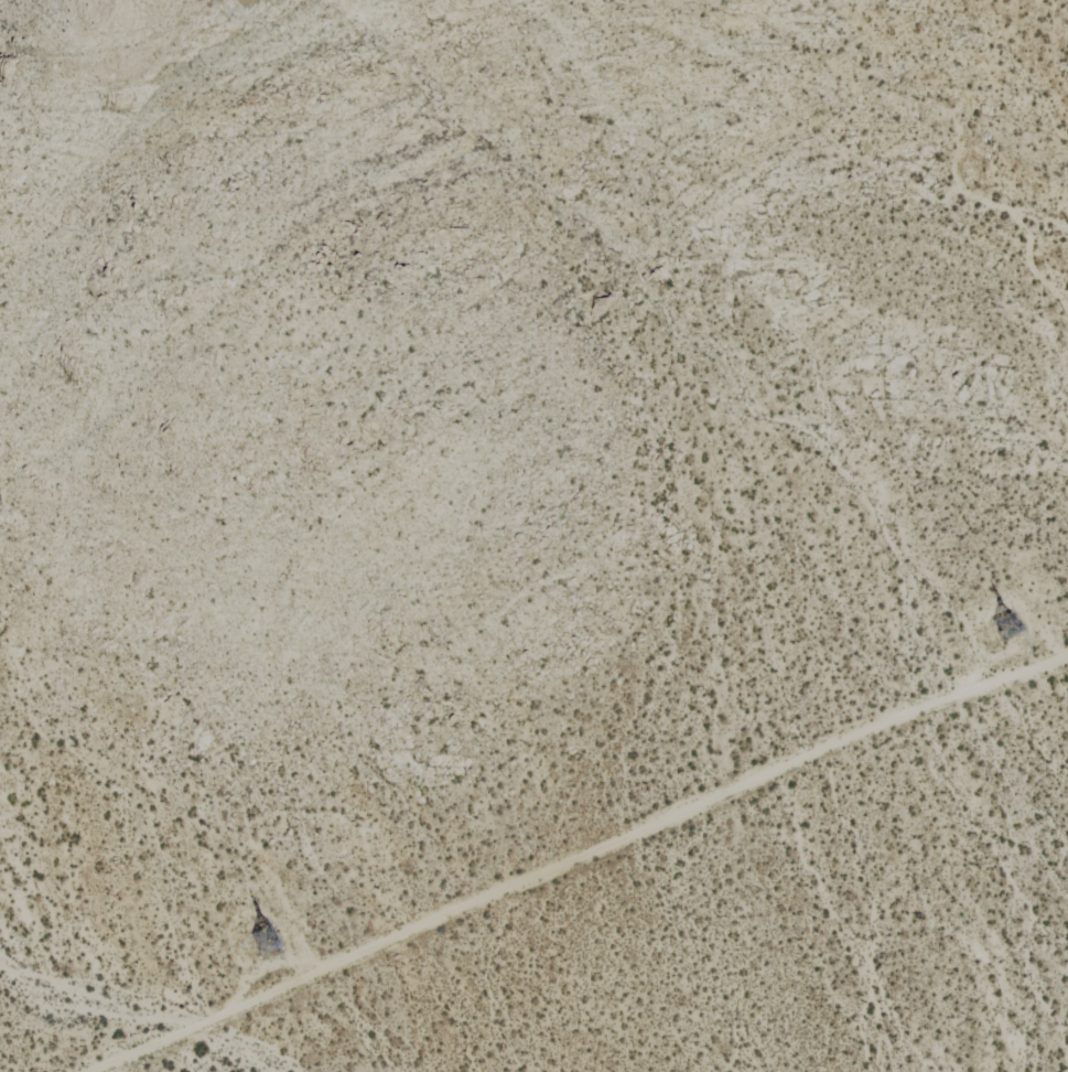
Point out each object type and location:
power tower: (1010, 626)
road: (570, 860)
power tower: (267, 943)

